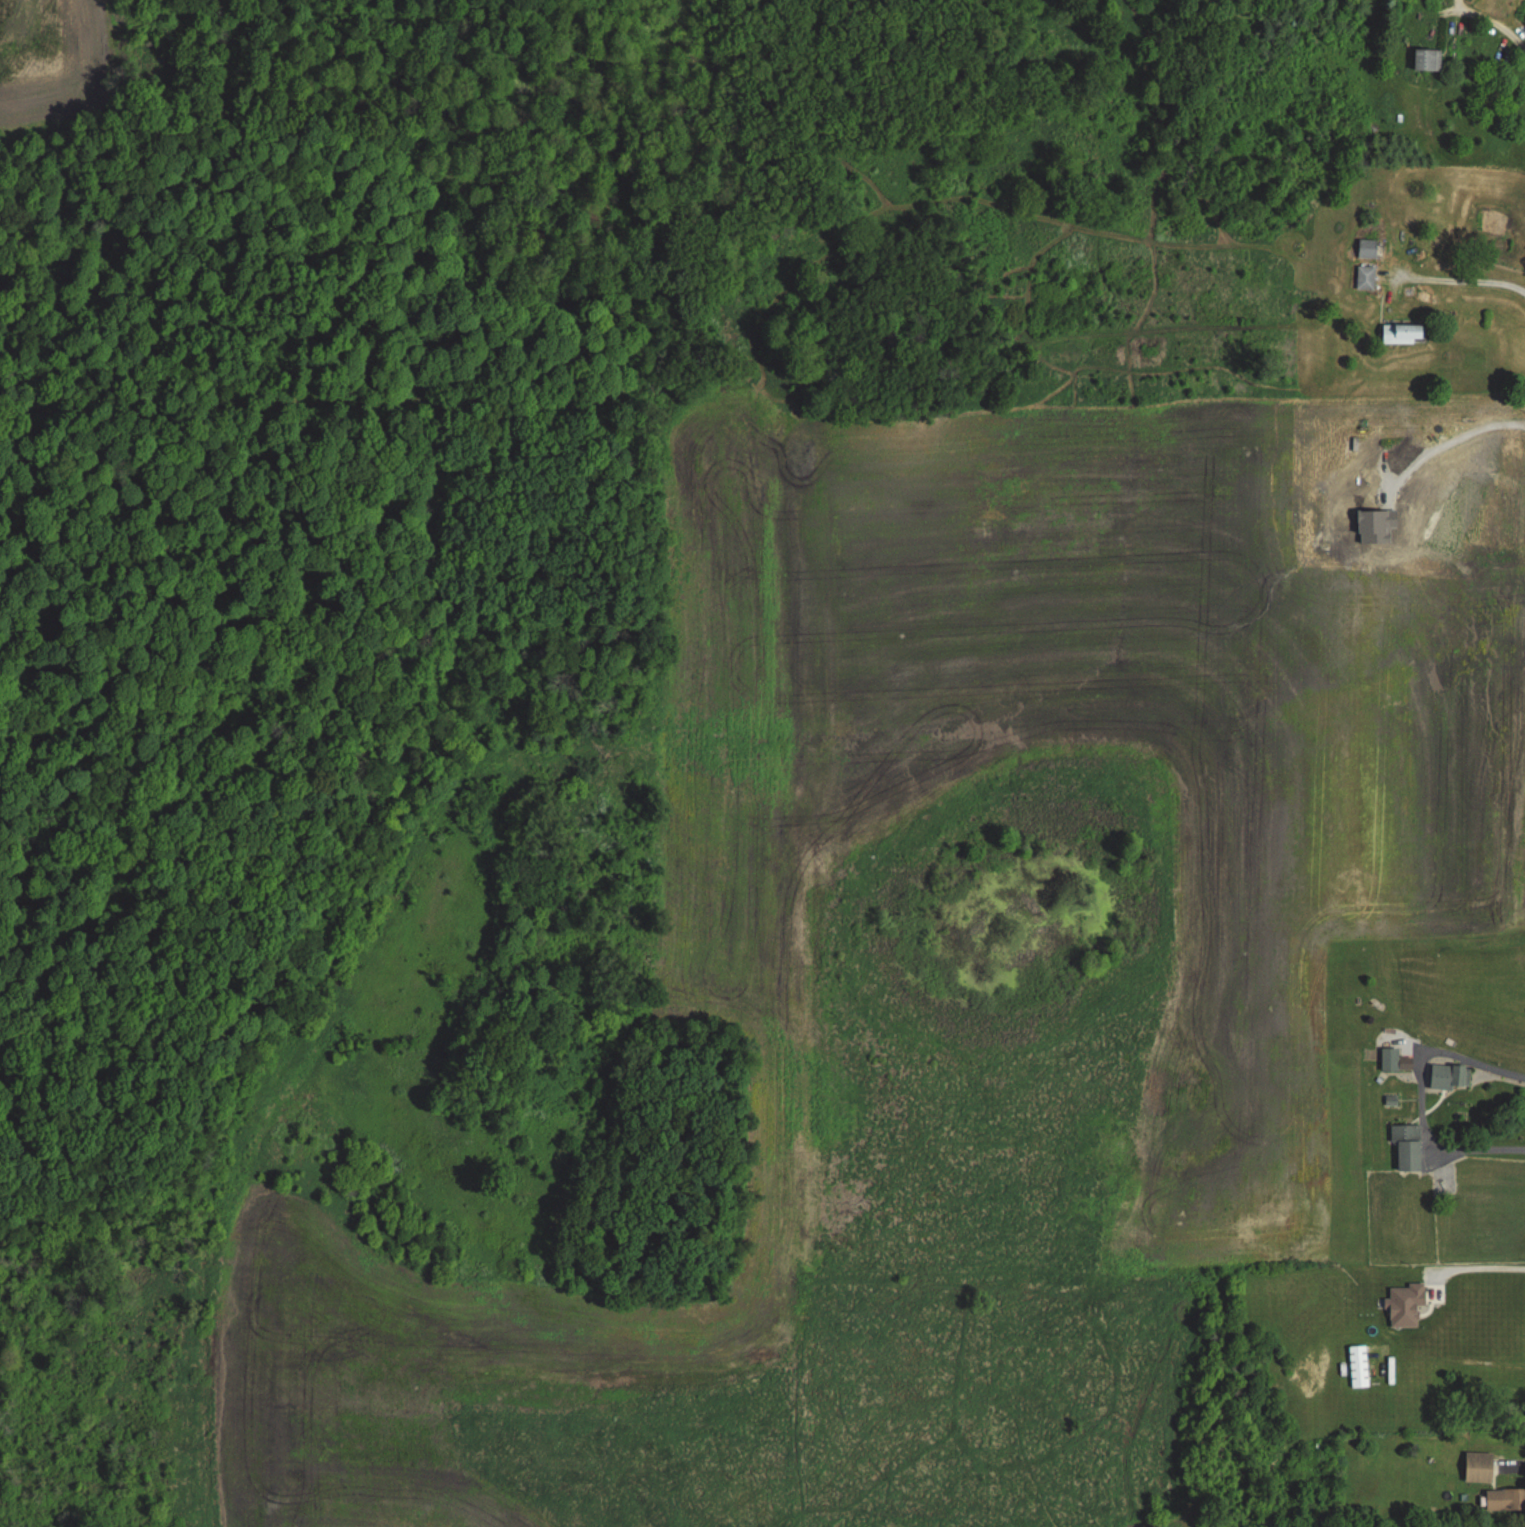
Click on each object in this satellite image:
road: (1498, 19)
building: (1427, 60)
building: (1366, 249)
building: (1365, 279)
road: (1463, 281)
building: (1402, 335)
road: (1447, 433)
building: (1396, 1060)
building: (1449, 1076)
road: (1419, 1096)
building: (1407, 1146)
road: (1482, 1270)
building: (1358, 1366)
building: (1479, 1467)
building: (1505, 1500)

